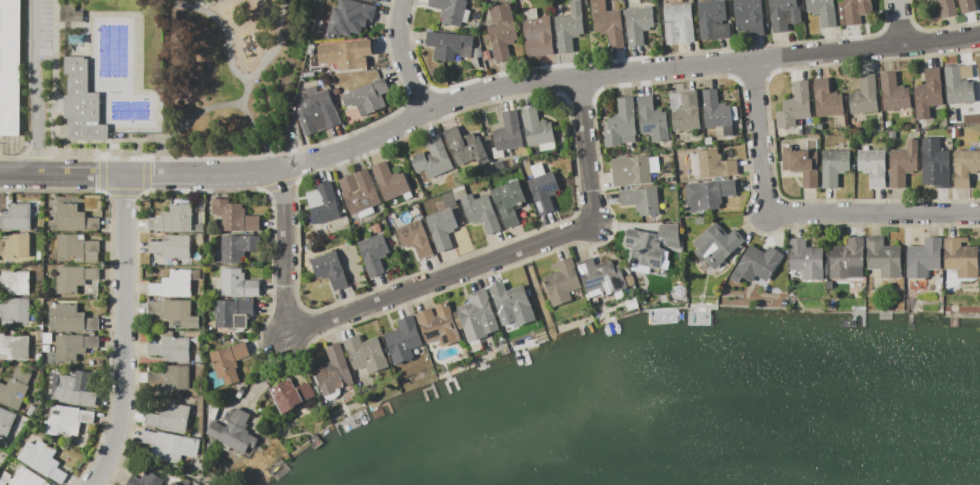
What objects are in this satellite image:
building: (374, 0)
building: (926, 0)
building: (966, 6)
building: (946, 8)
building: (449, 10)
building: (855, 10)
building: (68, 12)
building: (823, 12)
building: (783, 14)
building: (749, 15)
building: (348, 17)
building: (713, 20)
building: (678, 22)
building: (607, 23)
road: (899, 23)
building: (638, 25)
building: (568, 27)
road: (226, 31)
building: (501, 31)
building: (538, 37)
building: (449, 45)
building: (345, 54)
road: (402, 58)
building: (10, 67)
road: (621, 73)
park: (165, 76)
building: (979, 77)
building: (959, 84)
road: (35, 87)
building: (893, 93)
building: (927, 93)
building: (864, 96)
building: (367, 97)
building: (826, 99)
road: (241, 102)
building: (82, 103)
building: (794, 106)
building: (315, 110)
building: (684, 111)
building: (716, 112)
building: (652, 119)
building: (620, 123)
building: (536, 128)
building: (508, 132)
road: (261, 135)
building: (465, 147)
building: (432, 158)
building: (935, 162)
building: (715, 164)
building: (902, 164)
building: (801, 165)
building: (833, 167)
building: (873, 167)
building: (965, 167)
building: (631, 171)
road: (138, 175)
building: (390, 181)
building: (358, 191)
building: (543, 191)
building: (708, 194)
building: (641, 200)
building: (508, 202)
building: (322, 203)
building: (481, 212)
road: (797, 213)
building: (16, 217)
building: (234, 217)
building: (73, 219)
building: (173, 219)
building: (441, 228)
building: (669, 235)
building: (414, 238)
building: (717, 245)
building: (15, 246)
building: (171, 247)
building: (238, 248)
building: (77, 249)
building: (373, 253)
building: (646, 253)
building: (882, 257)
building: (923, 257)
building: (960, 257)
building: (805, 259)
building: (847, 259)
building: (756, 264)
building: (328, 269)
building: (601, 276)
building: (73, 278)
building: (561, 282)
building: (15, 283)
building: (175, 283)
building: (237, 283)
road: (428, 283)
building: (513, 300)
building: (14, 311)
building: (174, 313)
building: (232, 313)
building: (476, 317)
building: (70, 319)
building: (438, 325)
road: (124, 333)
building: (403, 340)
building: (14, 346)
building: (73, 346)
building: (171, 349)
building: (365, 353)
building: (228, 362)
building: (333, 371)
building: (175, 378)
building: (14, 388)
building: (75, 391)
building: (286, 396)
building: (174, 418)
building: (68, 420)
building: (5, 421)
building: (234, 432)
building: (170, 444)
building: (41, 460)
building: (26, 478)
building: (146, 479)
building: (174, 483)

